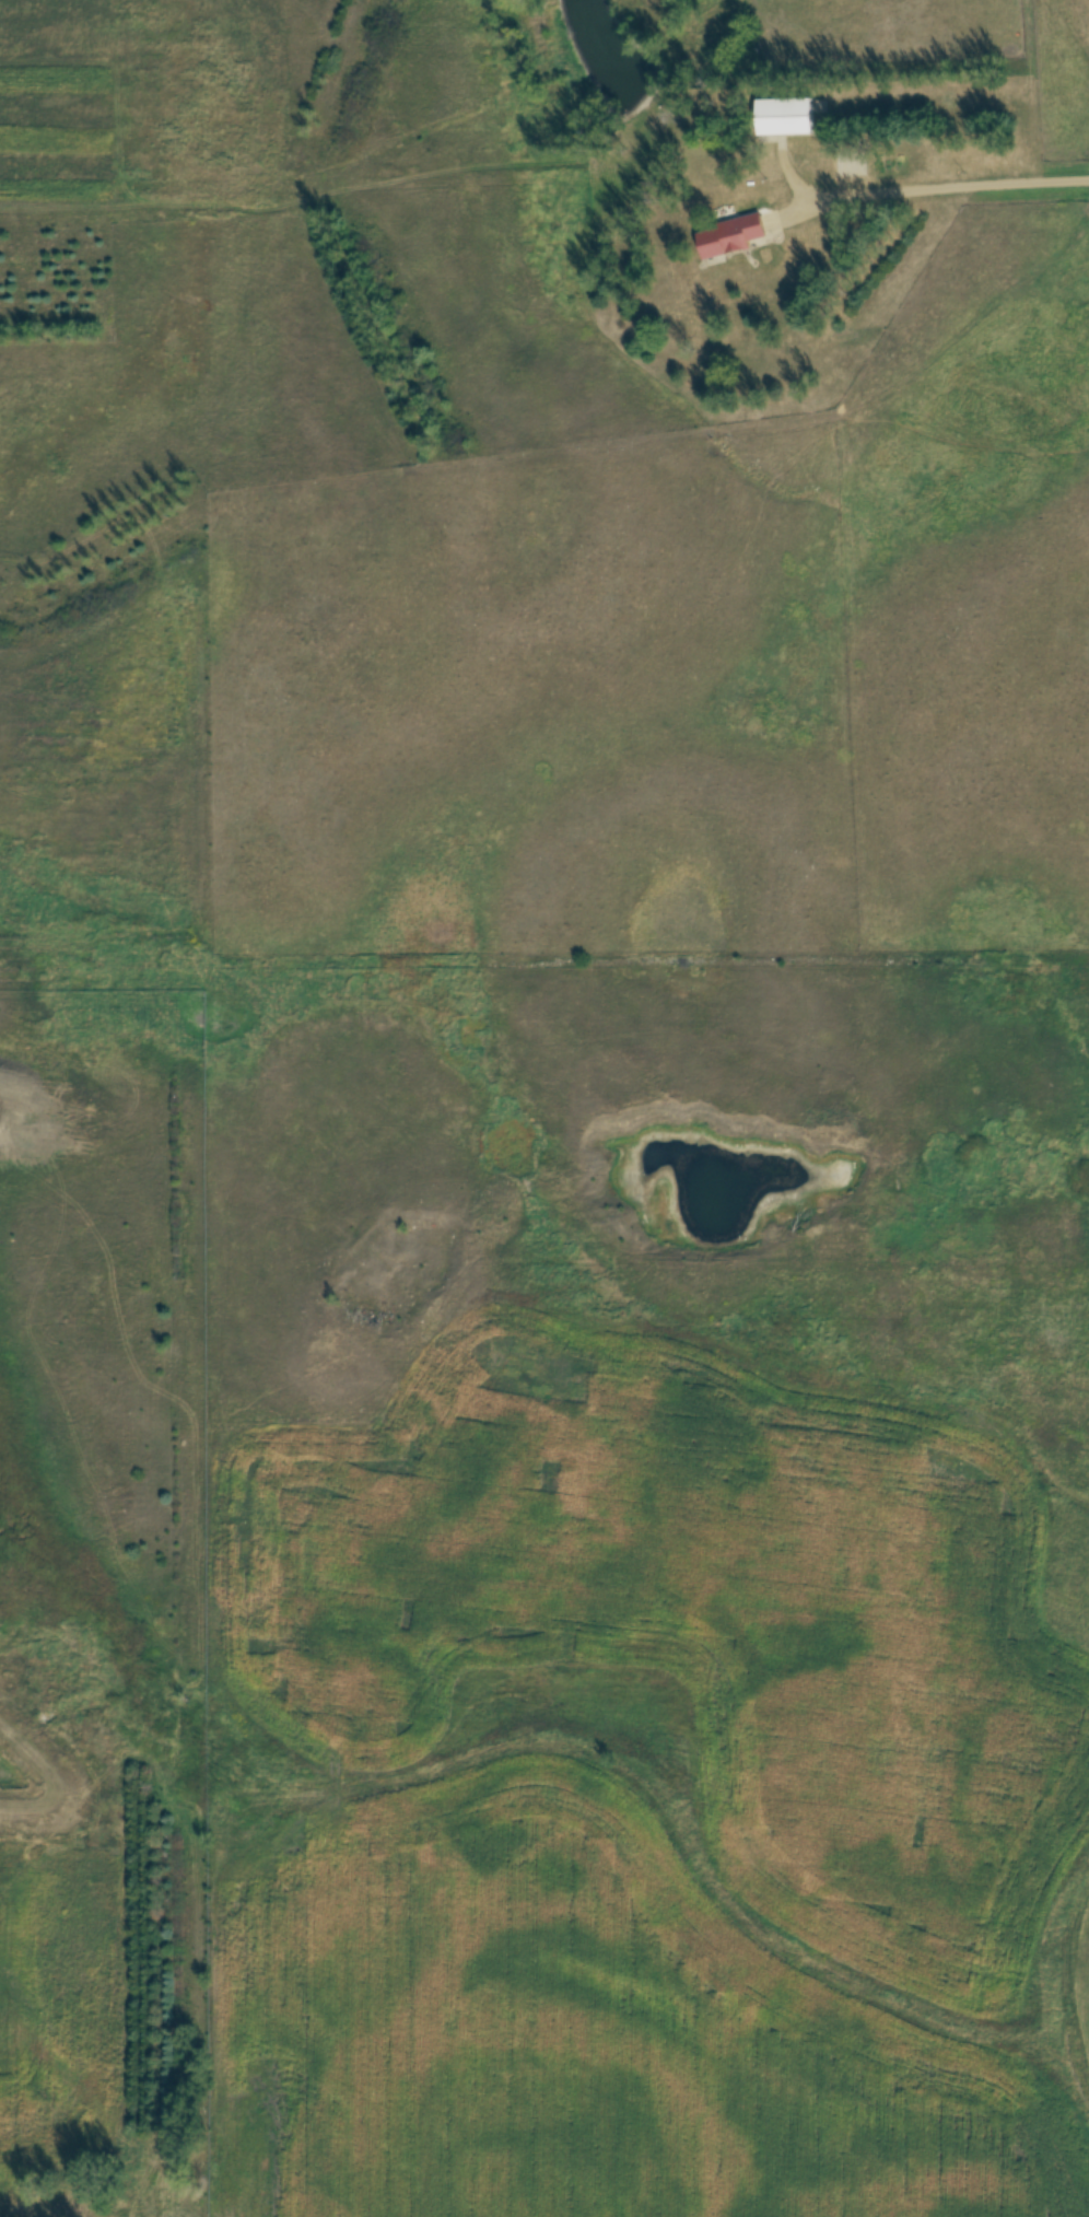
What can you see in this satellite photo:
building: (785, 116)
road: (941, 186)
building: (731, 234)
crop: (645, 1789)
crop: (58, 2006)

